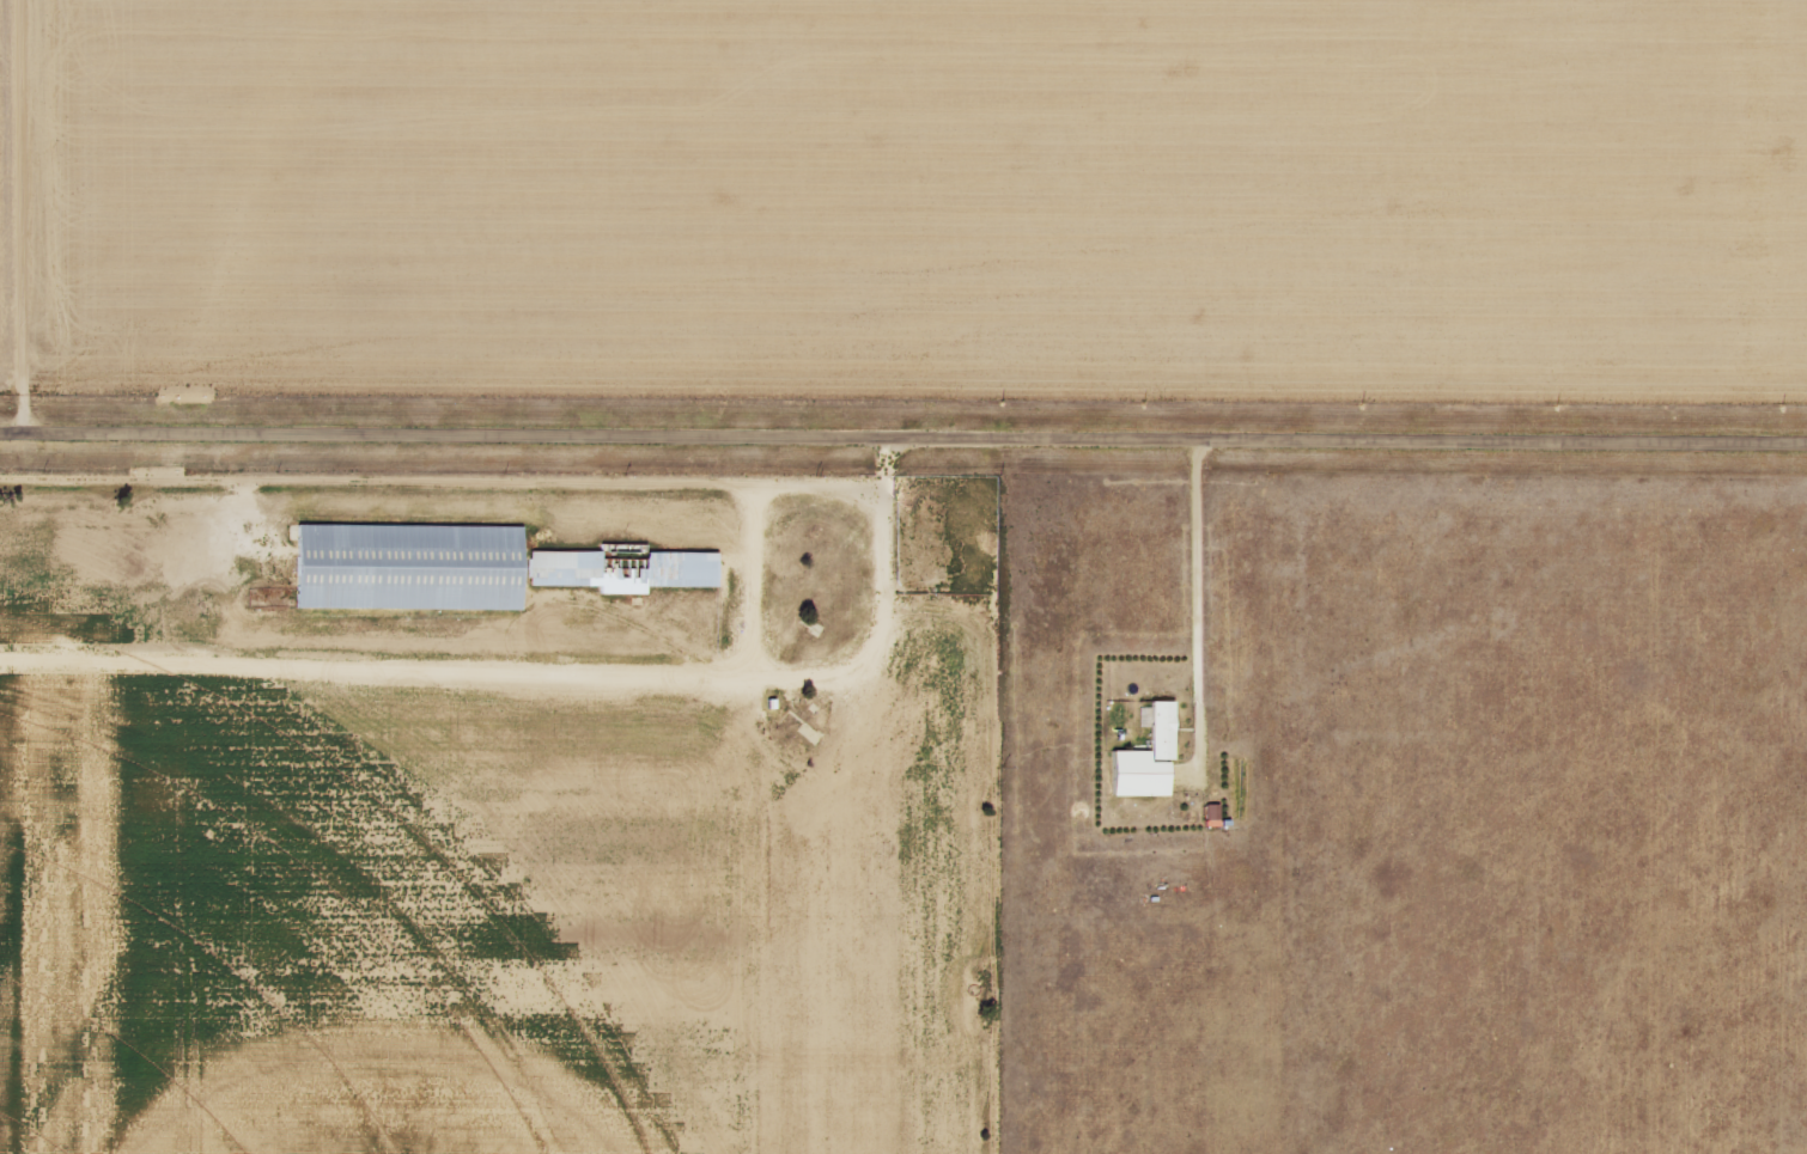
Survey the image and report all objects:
road: (32, 214)
road: (902, 441)
building: (413, 566)
building: (627, 570)
road: (544, 678)
building: (1151, 759)
building: (1216, 816)

